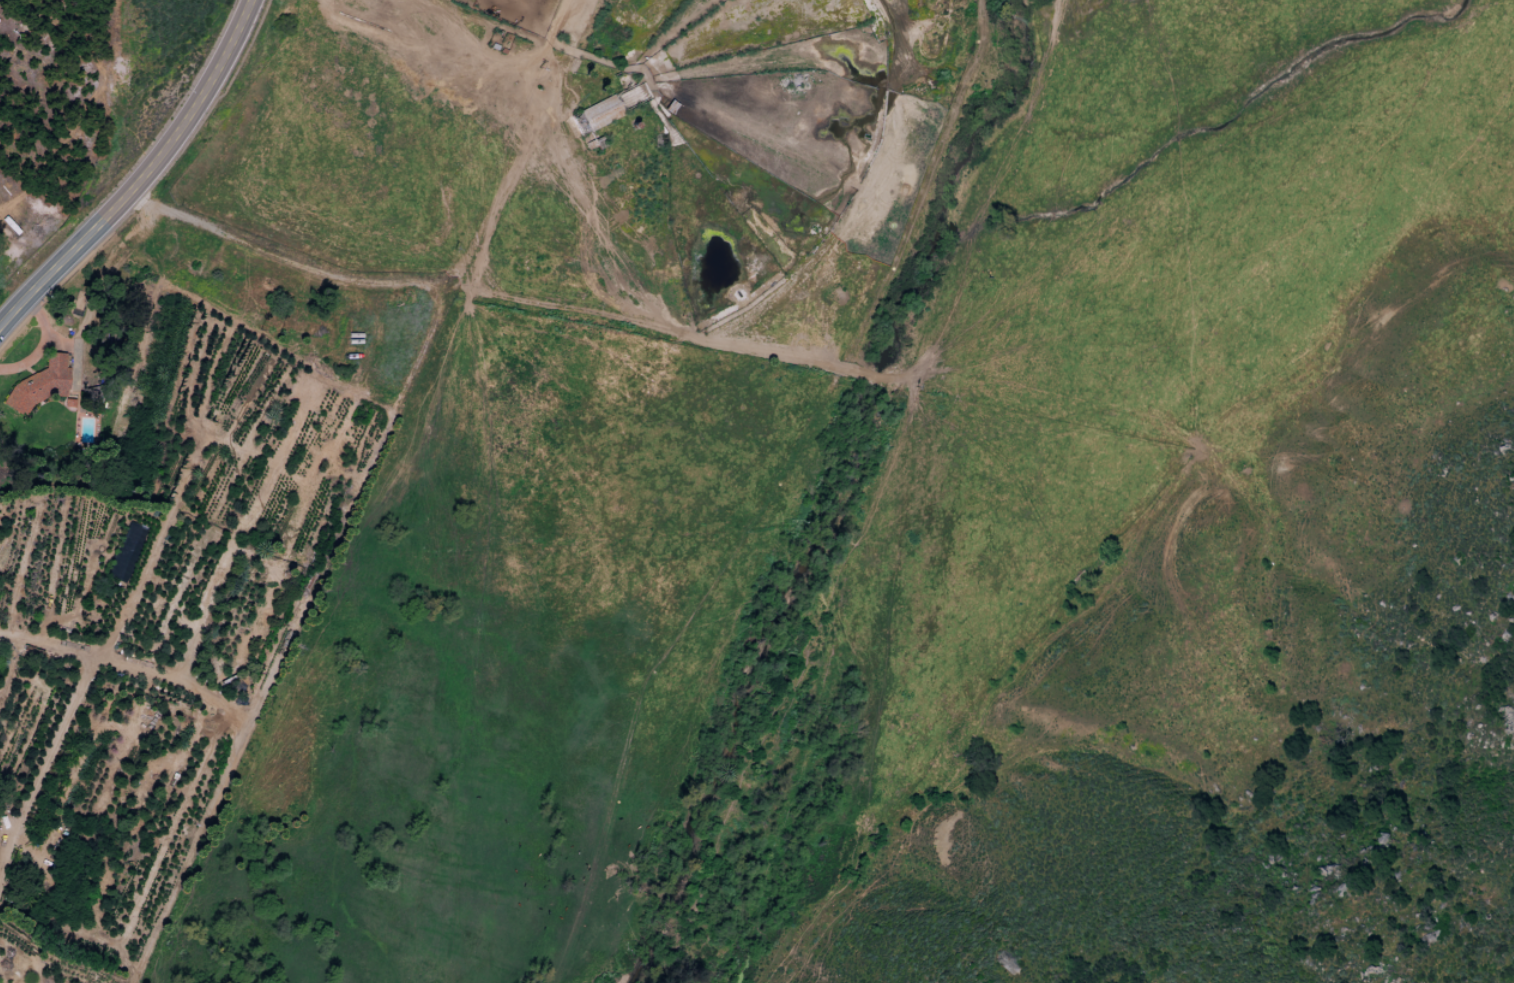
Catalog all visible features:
building: (596, 115)
road: (142, 175)
road: (435, 280)
road: (100, 289)
road: (39, 344)
building: (39, 383)
road: (232, 740)

